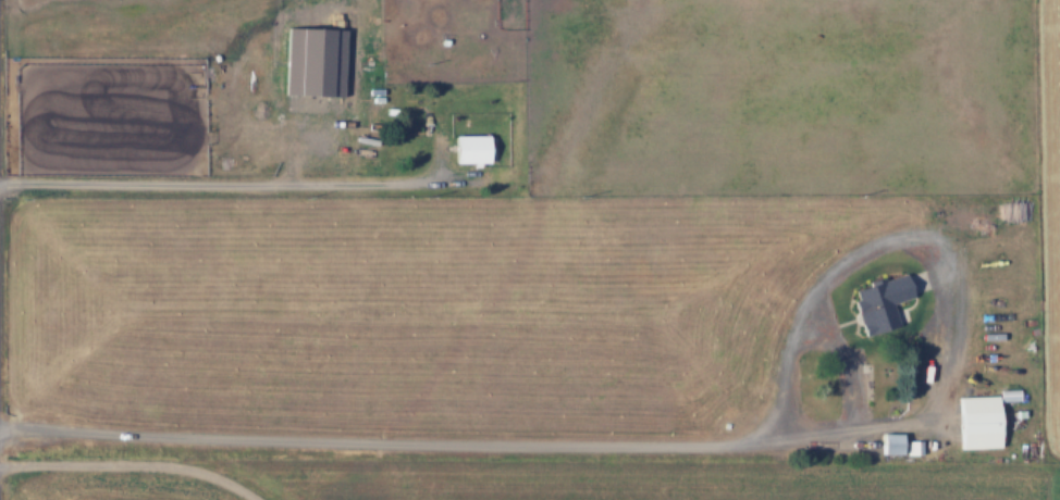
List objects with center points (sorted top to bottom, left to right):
building: (471, 149)
road: (227, 180)
building: (884, 299)
road: (836, 338)
building: (979, 421)
road: (387, 438)
building: (891, 442)
road: (134, 461)

